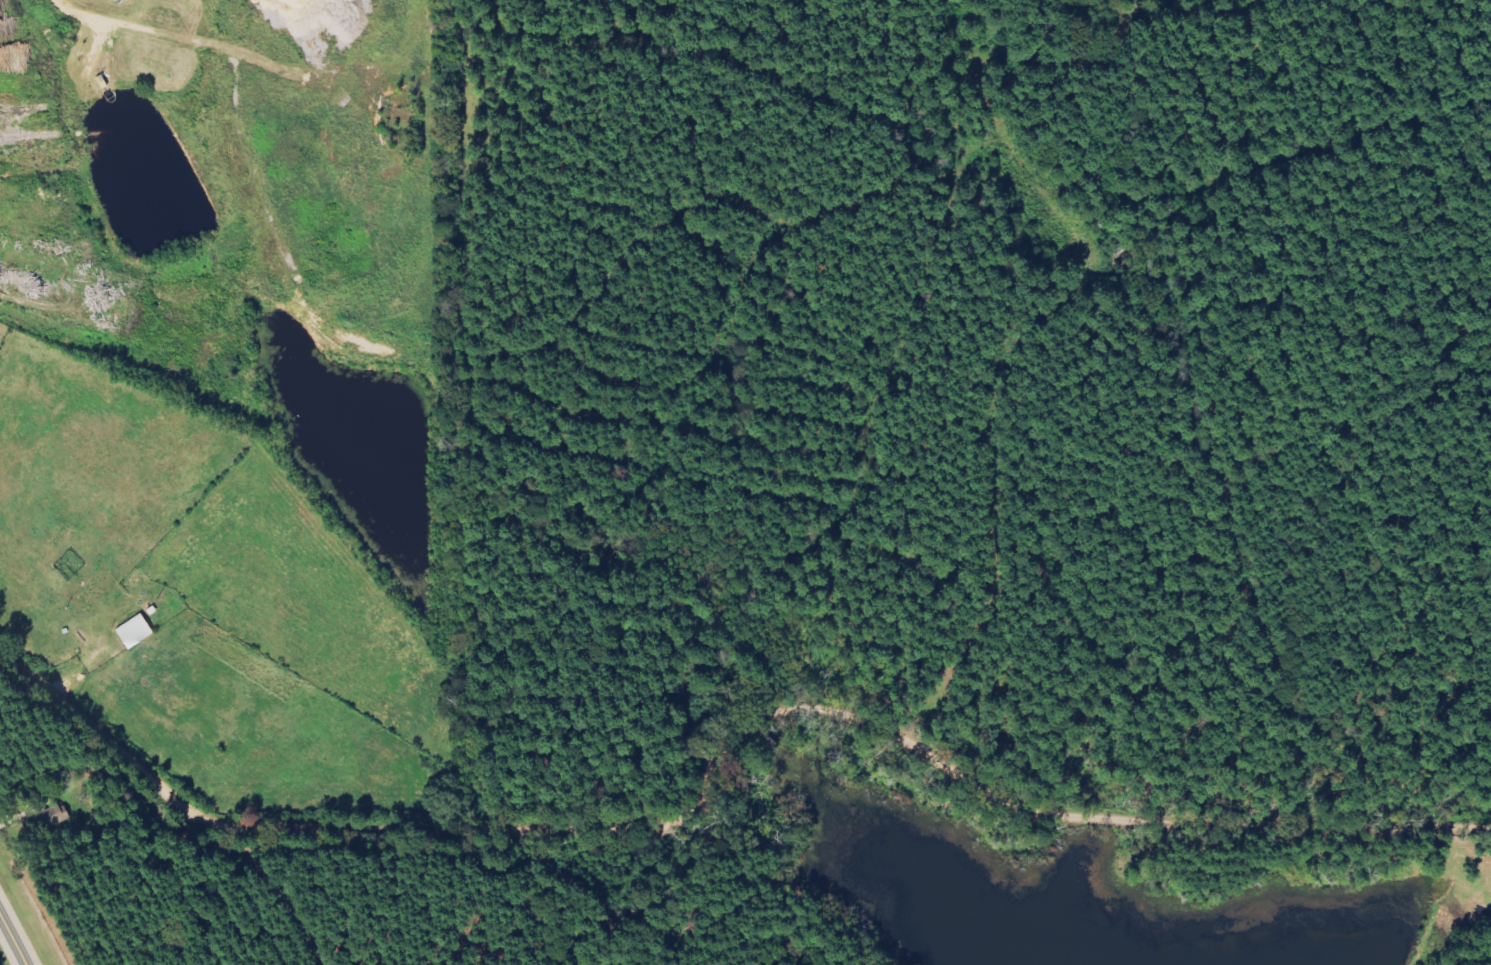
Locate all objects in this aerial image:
road: (1005, 509)
building: (140, 632)
road: (714, 755)
road: (14, 935)

